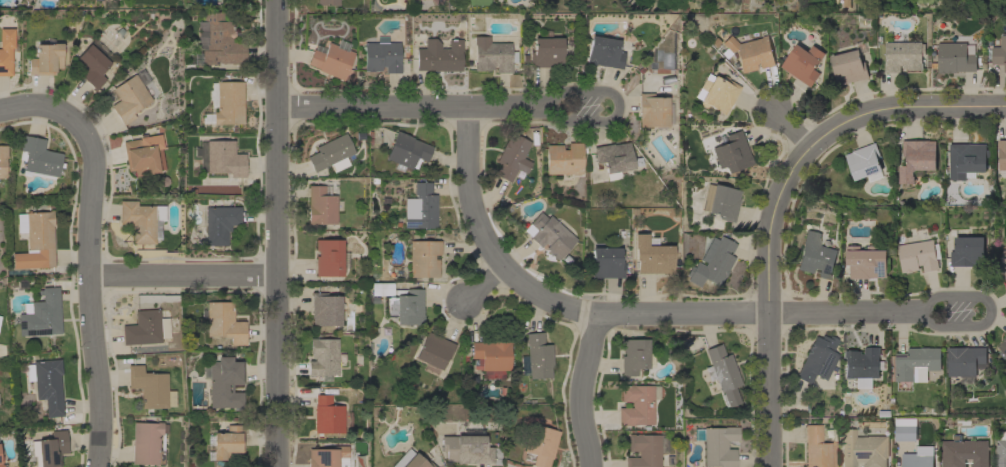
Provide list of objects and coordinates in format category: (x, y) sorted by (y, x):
building: (327, 2)
building: (218, 40)
building: (6, 50)
building: (545, 52)
building: (604, 52)
building: (749, 52)
building: (999, 53)
building: (492, 55)
building: (381, 56)
building: (438, 56)
building: (903, 56)
building: (331, 58)
building: (956, 58)
building: (45, 59)
building: (92, 63)
building: (803, 64)
building: (850, 65)
building: (716, 92)
building: (130, 96)
building: (225, 102)
road: (418, 107)
road: (48, 109)
road: (618, 109)
building: (652, 110)
road: (901, 111)
road: (792, 129)
building: (406, 151)
building: (734, 151)
building: (330, 152)
building: (1002, 155)
building: (512, 156)
building: (140, 157)
building: (219, 157)
building: (38, 158)
building: (563, 158)
building: (612, 158)
building: (917, 159)
building: (2, 160)
building: (966, 160)
building: (864, 161)
building: (720, 201)
building: (321, 205)
building: (420, 207)
building: (141, 220)
building: (214, 225)
road: (281, 233)
building: (549, 234)
building: (35, 239)
building: (967, 252)
building: (652, 255)
building: (815, 256)
building: (329, 257)
building: (917, 257)
building: (423, 258)
building: (606, 260)
building: (712, 262)
building: (866, 262)
building: (1002, 266)
road: (185, 276)
road: (484, 284)
building: (380, 288)
road: (90, 301)
road: (768, 302)
building: (405, 307)
building: (325, 309)
building: (42, 313)
road: (638, 315)
building: (224, 322)
building: (145, 327)
building: (1003, 346)
building: (433, 352)
building: (491, 356)
building: (634, 356)
building: (323, 357)
building: (536, 357)
building: (965, 361)
building: (815, 363)
building: (916, 364)
building: (861, 366)
building: (722, 374)
building: (223, 382)
building: (46, 383)
building: (150, 387)
road: (581, 390)
building: (637, 404)
building: (326, 415)
building: (905, 429)
building: (147, 442)
building: (225, 443)
building: (539, 445)
building: (716, 445)
building: (815, 447)
building: (48, 449)
building: (466, 449)
building: (643, 450)
building: (1001, 450)
building: (860, 451)
building: (964, 452)
building: (326, 456)
building: (918, 457)
building: (0, 458)
building: (410, 460)
building: (1, 465)

